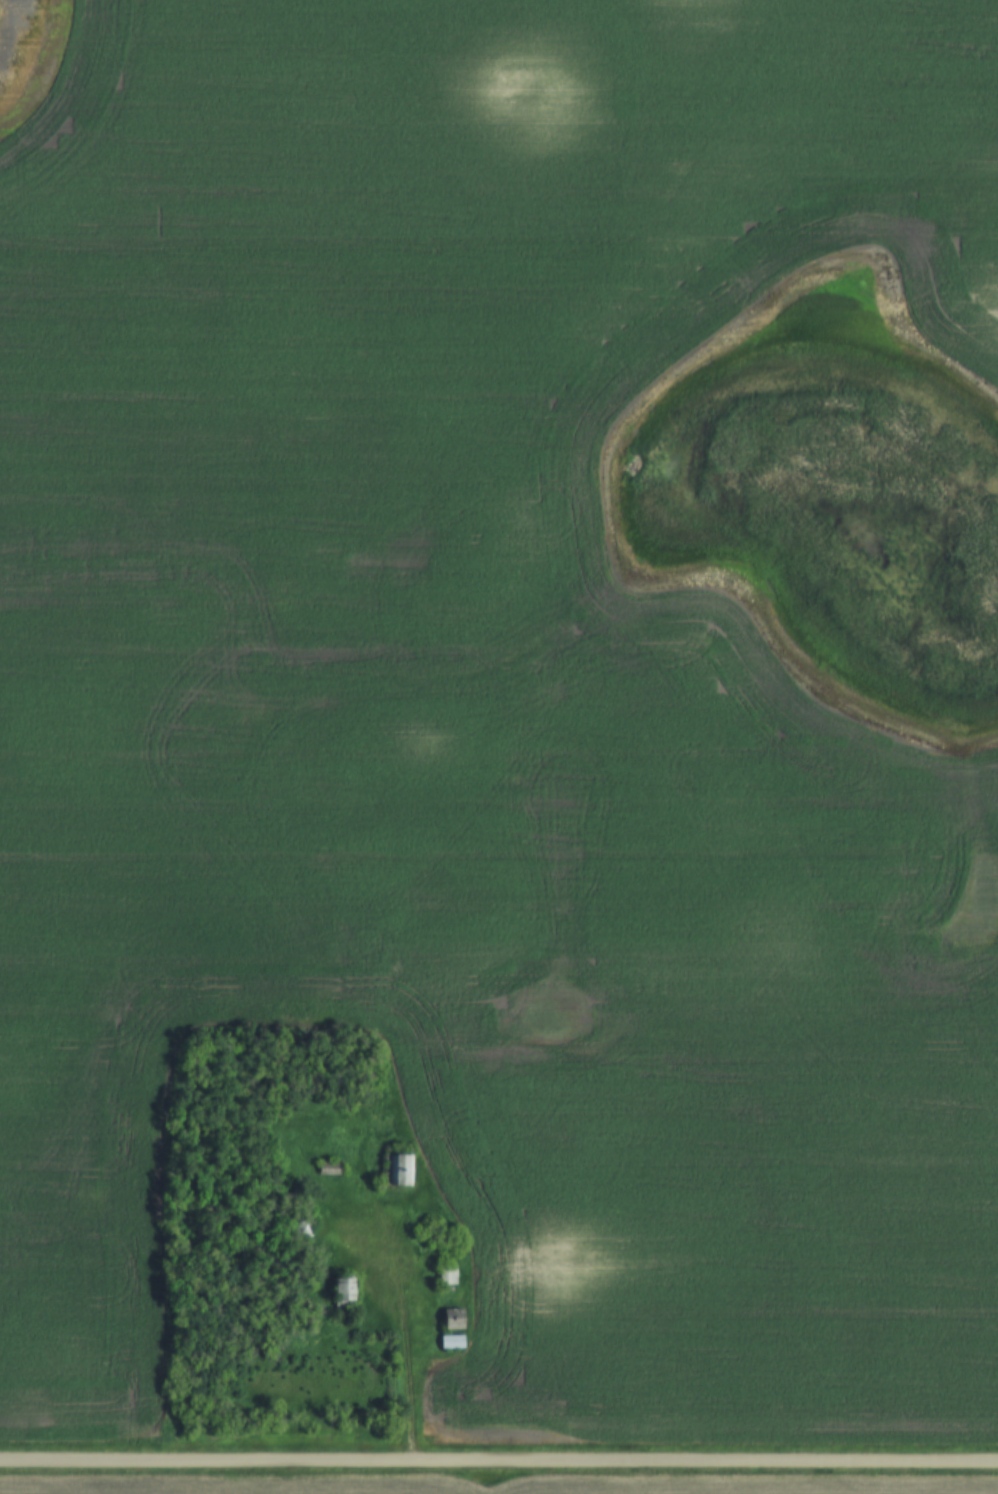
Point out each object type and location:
building: (330, 1169)
building: (395, 1171)
building: (447, 1277)
building: (341, 1292)
building: (452, 1319)
building: (451, 1342)
road: (411, 1348)
road: (498, 1464)

